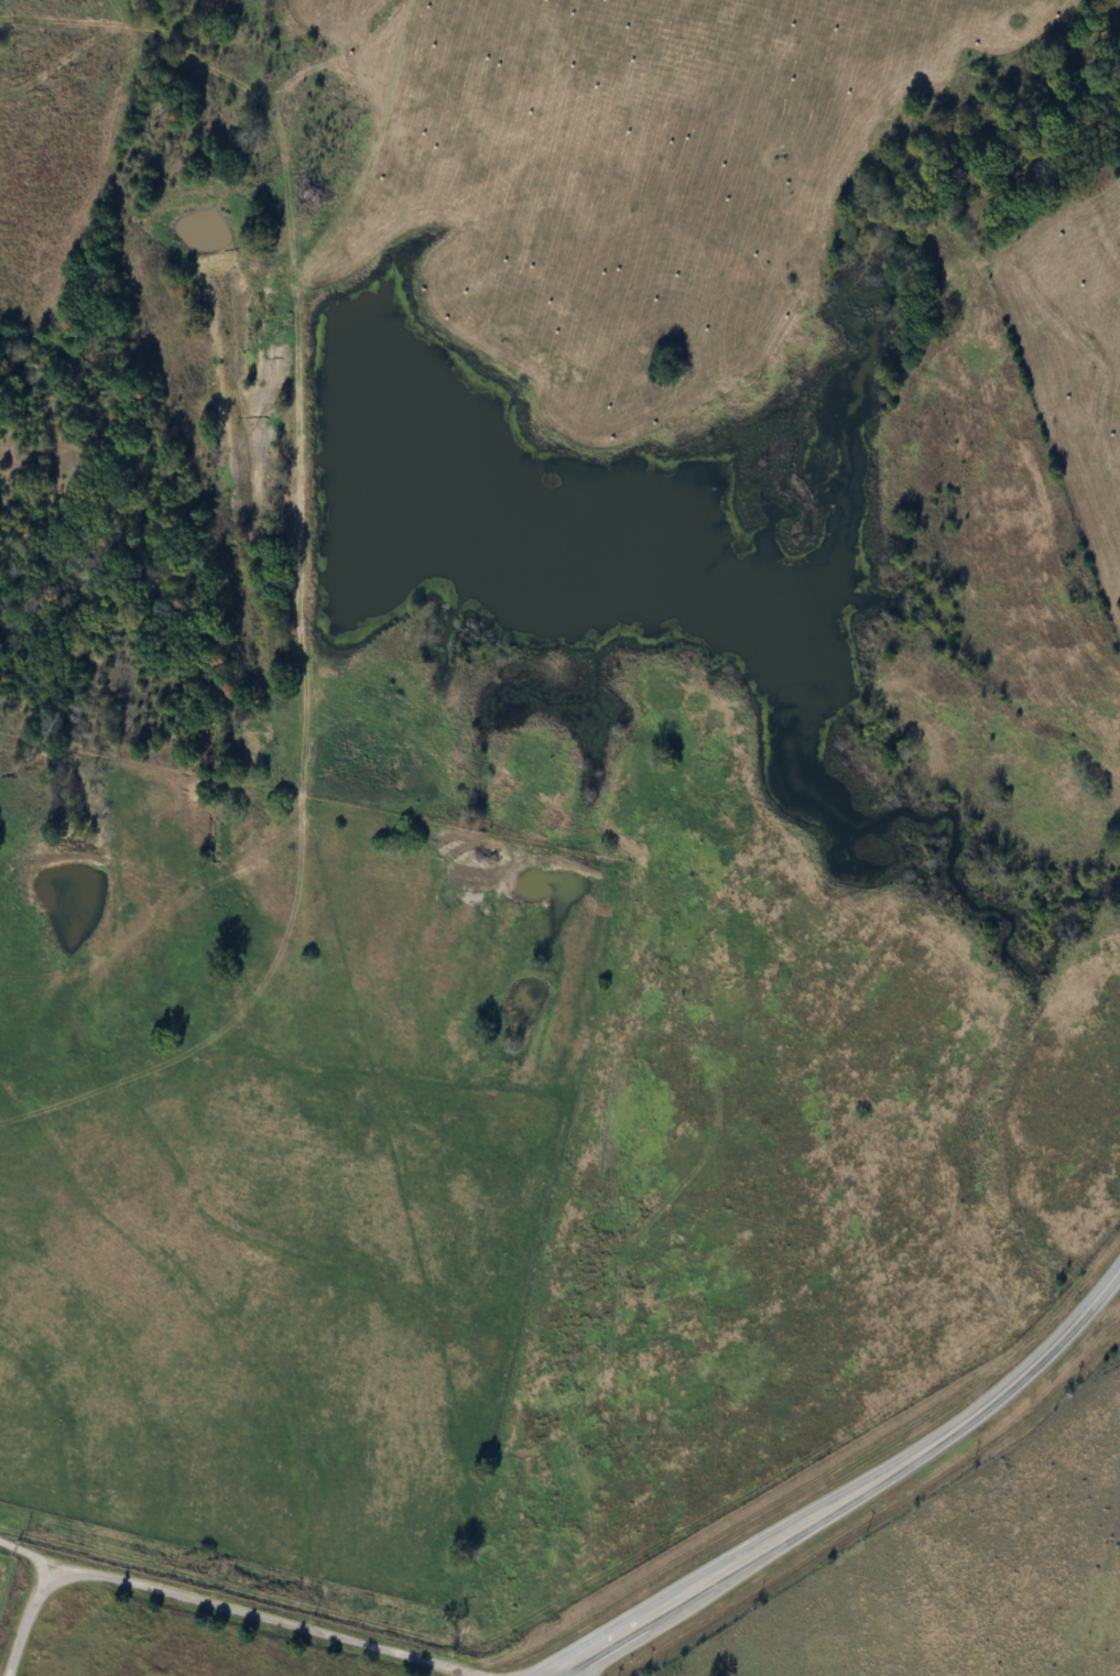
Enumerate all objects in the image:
road: (846, 1493)
road: (35, 1557)
road: (218, 1606)

